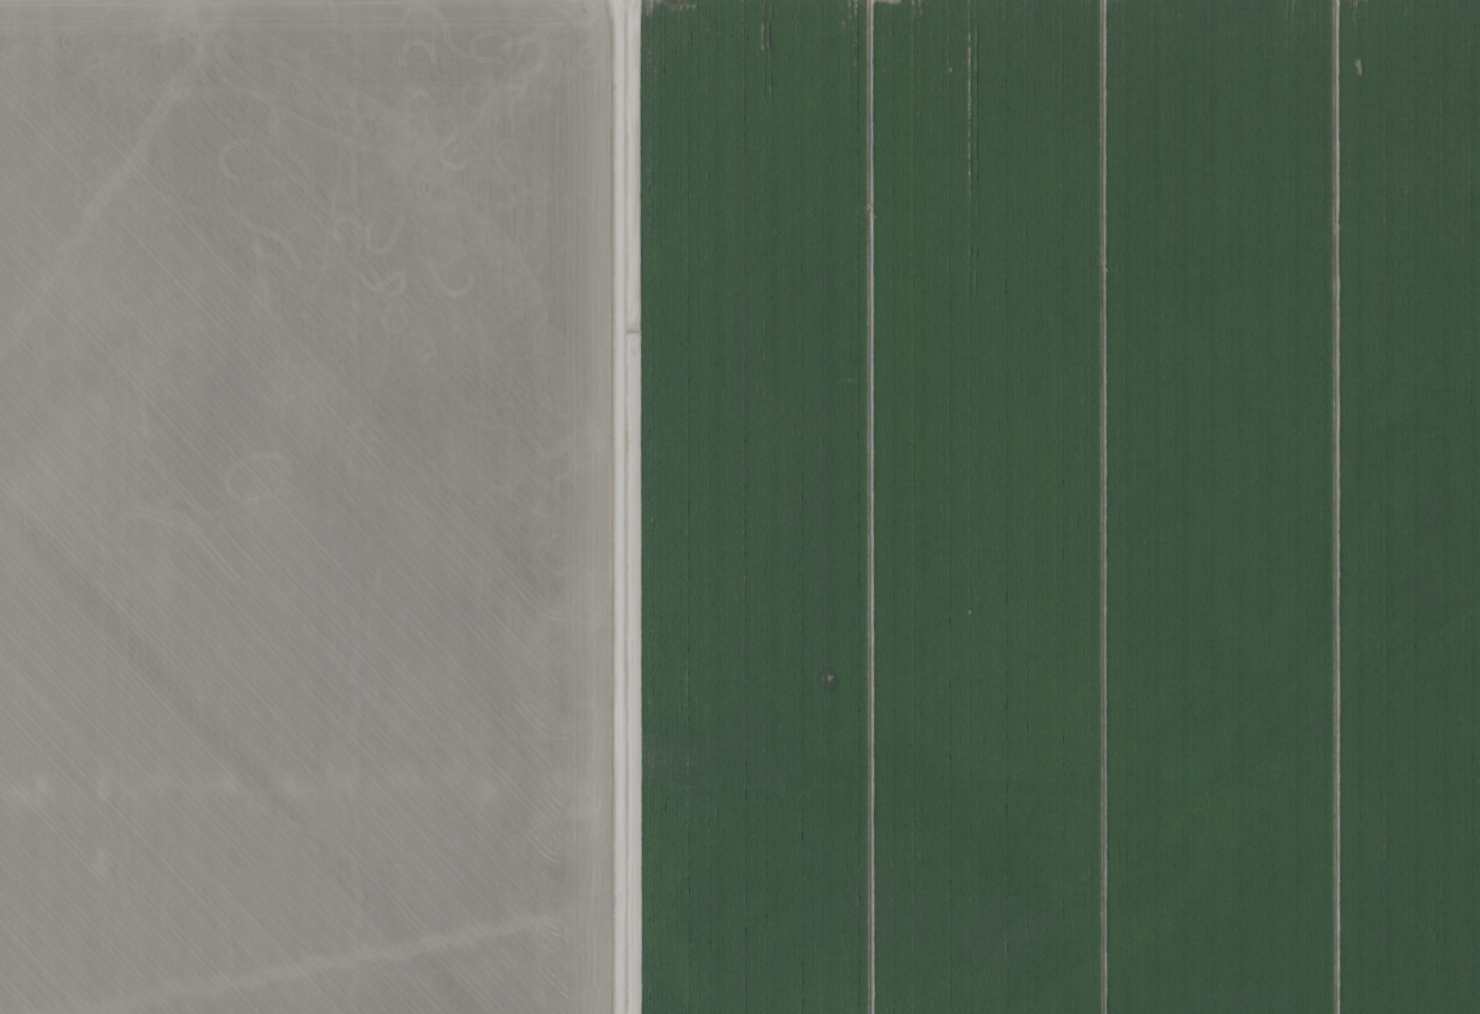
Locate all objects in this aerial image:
road: (1431, 964)

